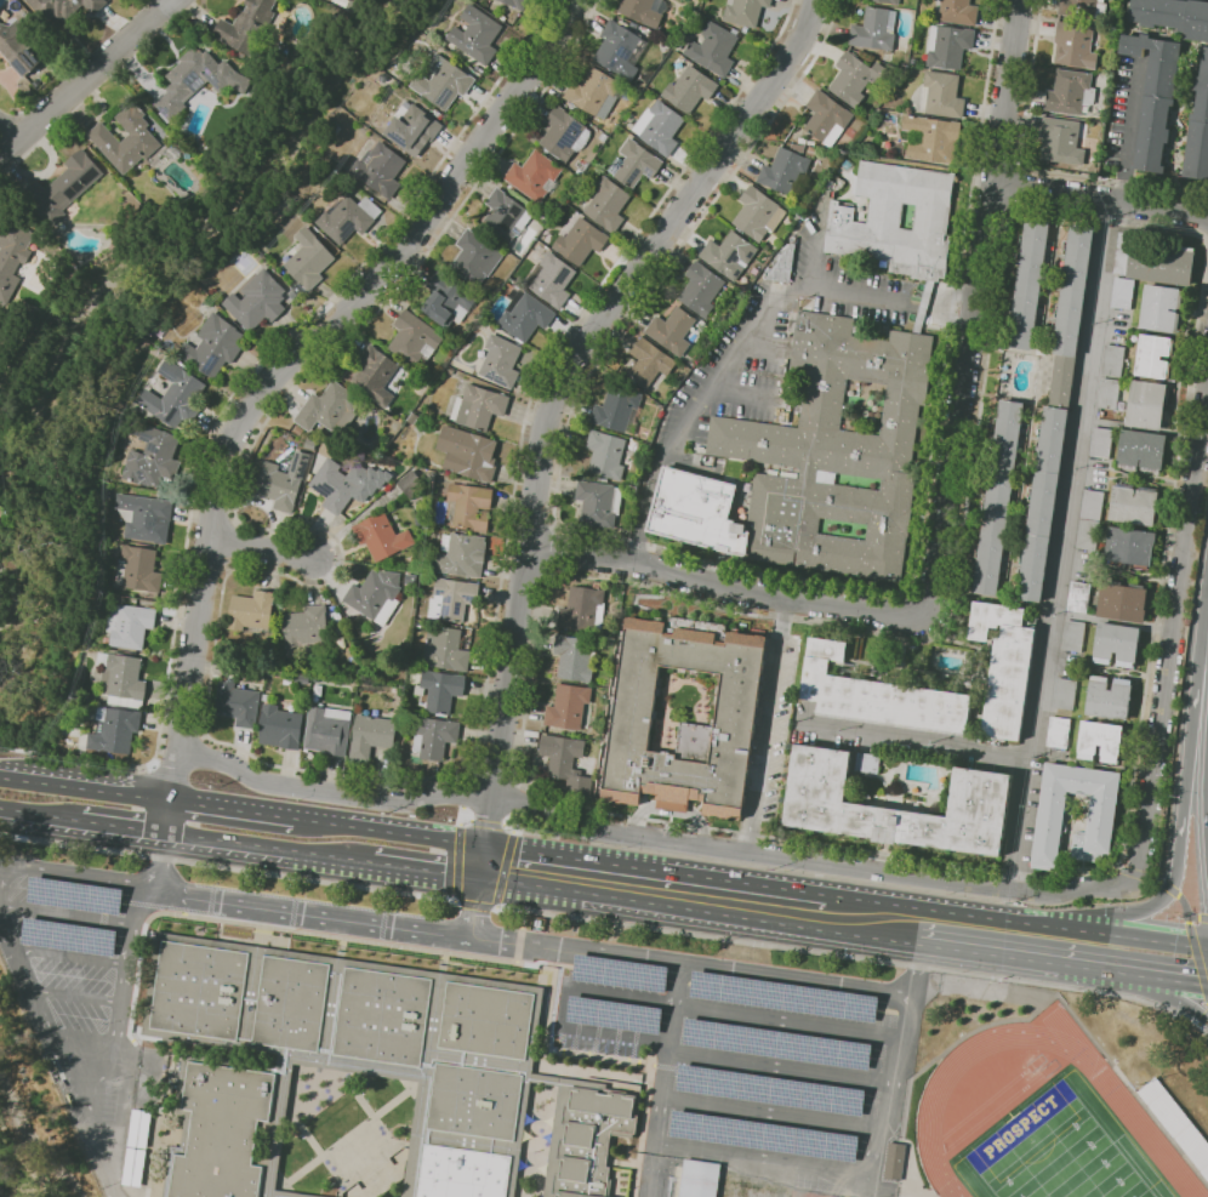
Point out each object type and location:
building: (885, 1)
building: (517, 4)
building: (92, 5)
building: (47, 6)
building: (1083, 7)
building: (642, 11)
building: (745, 11)
building: (958, 11)
building: (1173, 16)
building: (247, 27)
building: (874, 29)
building: (477, 35)
building: (1075, 45)
building: (948, 46)
building: (18, 47)
building: (620, 49)
building: (714, 49)
rooftop solar panel: (626, 52)
rooftop solar panel: (29, 53)
rooftop solar panel: (35, 58)
rooftop solar panel: (32, 59)
rooftop solar panel: (614, 62)
rooftop solar panel: (22, 65)
rooftop solar panel: (190, 74)
road: (85, 78)
building: (856, 78)
building: (195, 79)
rooftop solar panel: (211, 80)
building: (443, 82)
rooftop solar panel: (196, 84)
building: (690, 90)
building: (1071, 92)
building: (598, 93)
building: (944, 93)
rooftop solar panel: (446, 96)
building: (1155, 97)
rooftop solar panel: (163, 110)
building: (827, 118)
building: (660, 127)
building: (1198, 127)
building: (414, 129)
road: (1130, 131)
road: (10, 132)
building: (564, 135)
rooftop solar panel: (571, 136)
building: (931, 138)
building: (124, 141)
building: (1061, 141)
building: (798, 147)
building: (810, 150)
road: (996, 161)
rooftop solar panel: (614, 164)
building: (634, 164)
road: (1019, 165)
building: (380, 169)
road: (1031, 169)
rooftop solar panel: (646, 170)
building: (784, 171)
rooftop solar panel: (631, 175)
building: (534, 176)
building: (65, 187)
road: (1014, 187)
road: (1100, 199)
building: (608, 204)
road: (988, 206)
rooftop solar panel: (518, 209)
road: (1012, 211)
building: (758, 213)
building: (505, 217)
building: (346, 220)
rooftop solar panel: (511, 221)
building: (898, 223)
rooftop solar panel: (346, 228)
building: (581, 241)
building: (12, 250)
building: (729, 255)
rooftop solar panel: (748, 255)
rooftop solar panel: (731, 257)
building: (475, 258)
building: (307, 261)
building: (1153, 262)
building: (784, 266)
road: (814, 267)
rooftop solar panel: (735, 273)
building: (551, 279)
building: (1028, 284)
building: (701, 289)
building: (1122, 292)
building: (450, 298)
building: (257, 301)
road: (975, 304)
building: (1161, 308)
rooftop solar panel: (461, 309)
building: (525, 314)
building: (672, 330)
building: (415, 338)
building: (213, 346)
road: (273, 347)
rooftop solar panel: (428, 349)
building: (1155, 357)
building: (501, 360)
building: (1112, 360)
building: (650, 363)
rooftop solar panel: (210, 364)
road: (724, 365)
rooftop solar panel: (169, 372)
road: (277, 372)
building: (376, 376)
building: (1107, 393)
building: (175, 397)
road: (552, 400)
building: (1147, 405)
building: (479, 407)
building: (330, 409)
building: (619, 410)
building: (1055, 414)
building: (1101, 414)
rooftop solar panel: (172, 415)
building: (300, 429)
rooftop solar panel: (143, 438)
building: (1100, 443)
rooftop solar panel: (153, 448)
building: (1141, 450)
building: (468, 452)
building: (609, 455)
building: (153, 456)
building: (815, 461)
building: (283, 481)
building: (334, 485)
building: (412, 485)
road: (212, 497)
building: (998, 498)
building: (599, 503)
building: (471, 505)
building: (1133, 505)
building: (146, 517)
building: (1089, 520)
road: (234, 521)
road: (531, 523)
road: (553, 528)
building: (382, 536)
road: (1055, 543)
road: (228, 545)
building: (1129, 547)
road: (261, 548)
road: (547, 551)
building: (461, 554)
road: (722, 565)
road: (228, 569)
building: (138, 570)
road: (524, 570)
road: (204, 571)
building: (411, 578)
road: (725, 586)
rooftop solar panel: (439, 592)
building: (376, 595)
rooftop solar panel: (466, 597)
building: (1078, 597)
building: (452, 599)
building: (1122, 602)
rooftop solar panel: (456, 608)
building: (583, 609)
rooftop solar panel: (444, 610)
building: (251, 611)
road: (951, 621)
building: (129, 626)
building: (306, 631)
road: (1173, 634)
building: (1072, 635)
building: (1116, 644)
building: (445, 650)
building: (574, 657)
building: (1004, 666)
building: (121, 679)
building: (441, 690)
building: (879, 694)
building: (1065, 694)
building: (1109, 697)
building: (238, 703)
building: (568, 706)
building: (633, 718)
road: (764, 724)
building: (280, 728)
building: (114, 730)
building: (329, 730)
road: (182, 733)
building: (1058, 733)
building: (371, 735)
building: (433, 736)
building: (1100, 740)
road: (911, 742)
road: (18, 748)
road: (235, 748)
road: (93, 758)
building: (870, 760)
building: (565, 762)
road: (19, 776)
road: (465, 777)
road: (494, 785)
road: (523, 787)
road: (104, 788)
building: (864, 788)
building: (981, 788)
road: (465, 792)
road: (518, 802)
road: (234, 808)
building: (1101, 811)
road: (17, 813)
road: (461, 815)
road: (58, 817)
road: (467, 821)
road: (513, 823)
road: (488, 825)
road: (122, 827)
road: (507, 827)
road: (392, 831)
road: (1178, 837)
road: (654, 839)
traffic signals: (485, 845)
road: (269, 848)
road: (160, 861)
road: (456, 863)
road: (1119, 867)
road: (428, 868)
road: (653, 868)
road: (505, 870)
road: (1139, 874)
traffic signals: (482, 877)
road: (78, 878)
road: (1159, 882)
road: (1170, 888)
building: (74, 896)
rooftop solar panel: (73, 897)
road: (473, 904)
road: (1186, 908)
road: (700, 910)
road: (314, 913)
road: (65, 914)
road: (1195, 916)
road: (1204, 917)
road: (1014, 919)
flagpole: (279, 934)
building: (67, 936)
rooftop solar panel: (68, 937)
parking lot: (68, 946)
road: (69, 956)
road: (848, 956)
road: (1198, 962)
road: (1064, 964)
rooftop solar panel: (588, 967)
road: (689, 967)
building: (619, 973)
rooftop solar panel: (616, 976)
building: (722, 987)
building: (200, 990)
road: (121, 993)
road: (75, 996)
rooftop solar panel: (775, 996)
building: (782, 996)
road: (1178, 998)
building: (292, 1003)
building: (844, 1004)
road: (560, 1007)
rooftop solar panel: (582, 1010)
rooftop solar panel: (614, 1011)
building: (612, 1015)
building: (382, 1016)
road: (1202, 1018)
building: (488, 1020)
road: (788, 1022)
building: (714, 1034)
rooftop solar panel: (775, 1043)
building: (776, 1044)
road: (59, 1051)
building: (838, 1053)
road: (781, 1067)
parking lot: (751, 1076)
road: (663, 1081)
building: (707, 1081)
rooftop solar panel: (765, 1089)
building: (769, 1089)
track: (1115, 1094)
building: (831, 1098)
building: (475, 1101)
track: (984, 1102)
track: (992, 1112)
road: (771, 1115)
building: (1175, 1124)
building: (701, 1127)
building: (138, 1128)
building: (223, 1130)
building: (763, 1135)
building: (592, 1139)
rooftop solar panel: (765, 1139)
building: (825, 1144)
road: (103, 1148)
park: (1060, 1151)
park: (1055, 1153)
building: (893, 1161)
building: (132, 1167)
road: (850, 1172)
building: (463, 1173)
rooftop solar panel: (695, 1173)
building: (697, 1179)
rooftop solar panel: (697, 1191)
building: (296, 1195)

